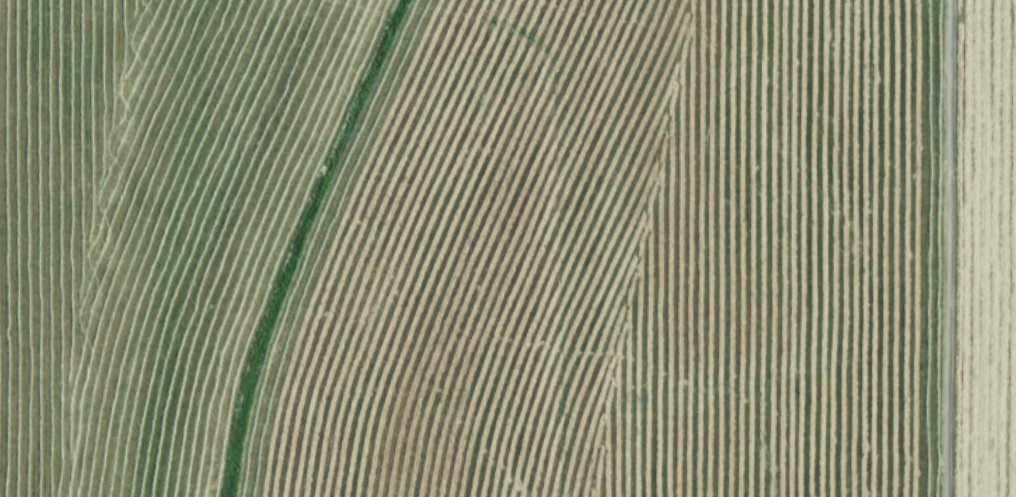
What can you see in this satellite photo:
crop: (508, 248)

